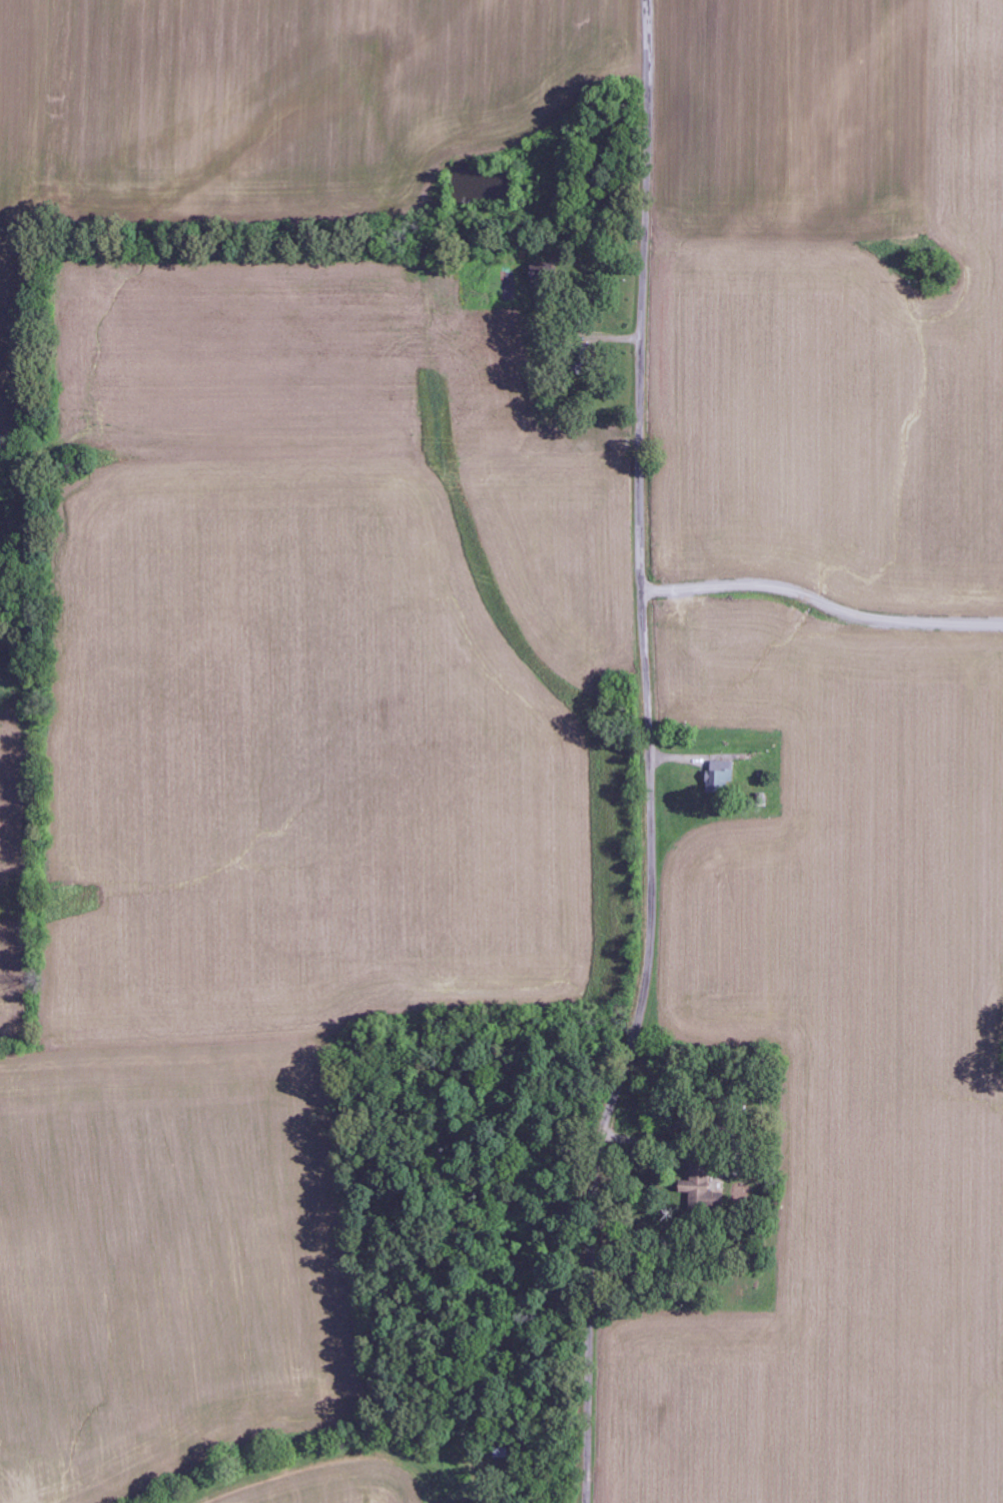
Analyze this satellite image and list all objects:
road: (821, 601)
road: (648, 755)
building: (701, 1188)

